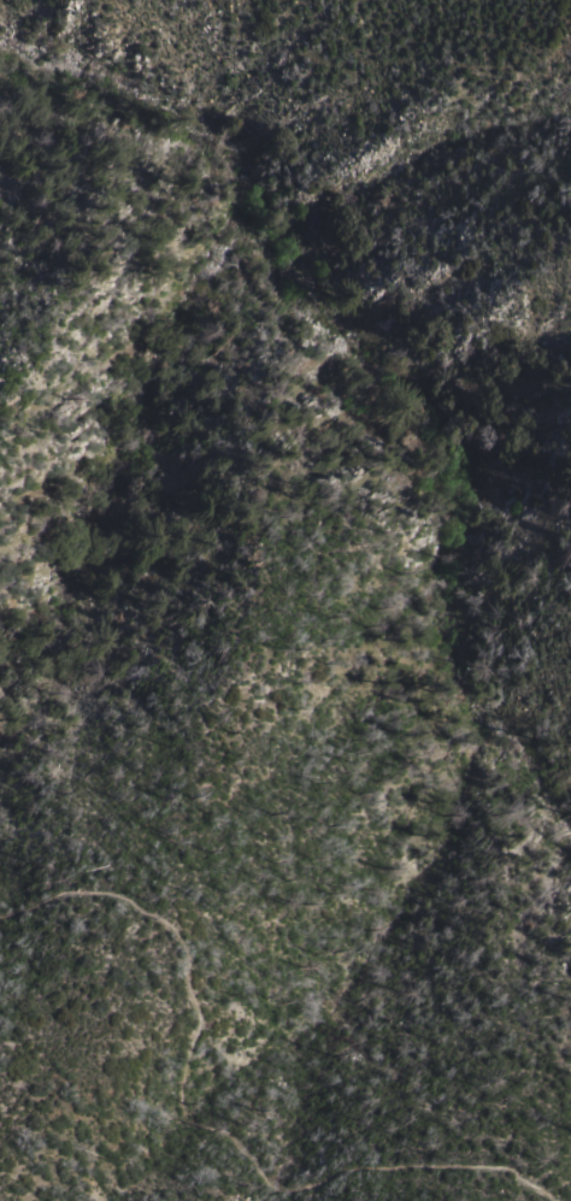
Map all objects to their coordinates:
road: (201, 1117)

